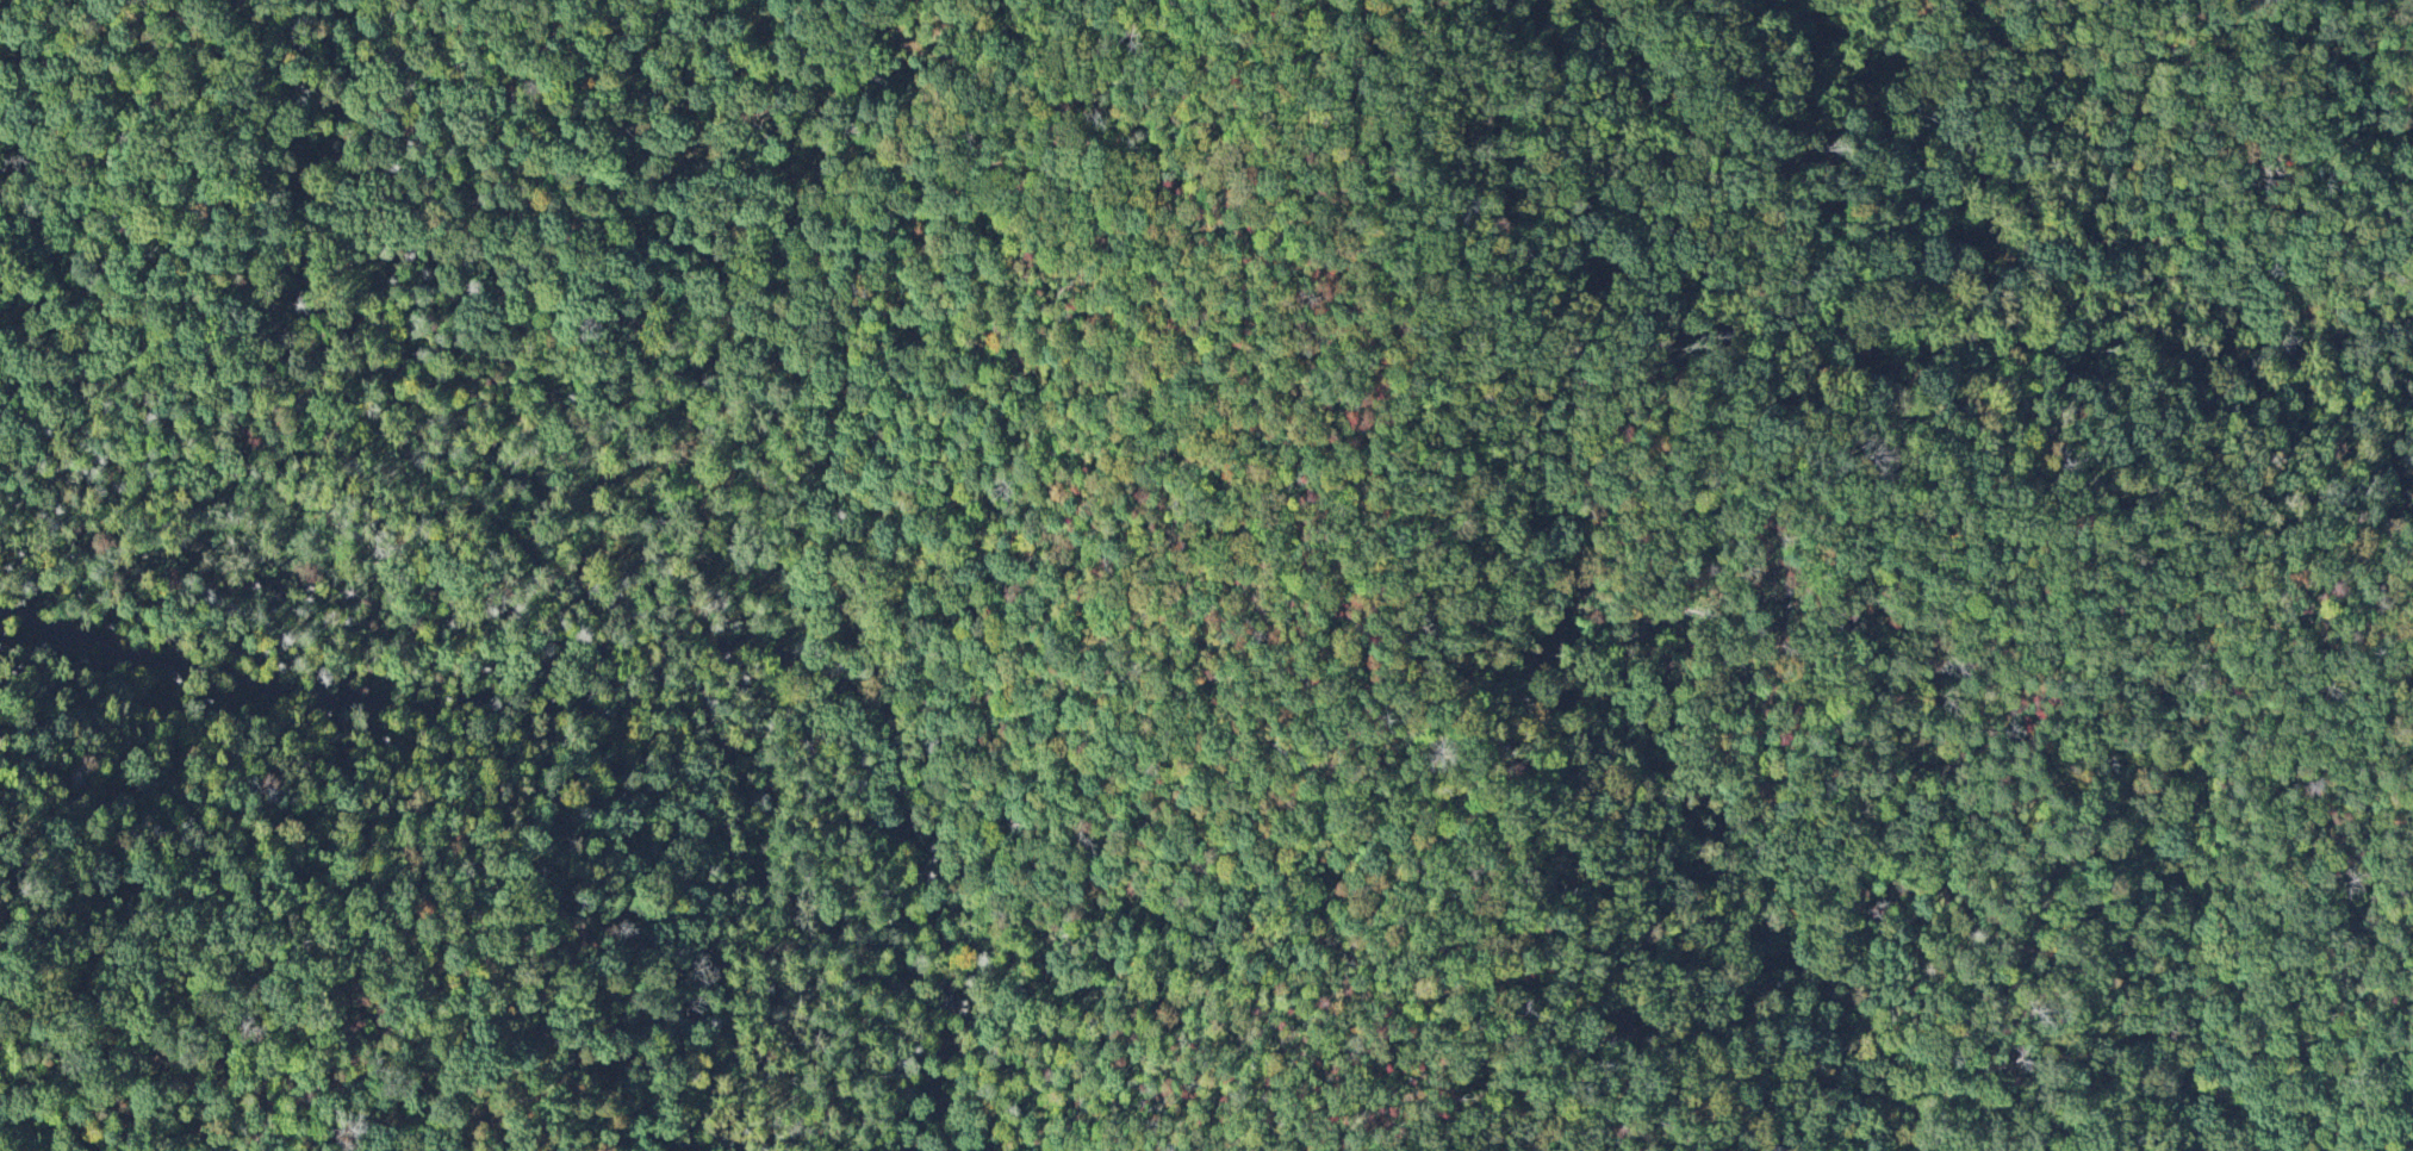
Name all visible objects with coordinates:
road: (573, 585)

